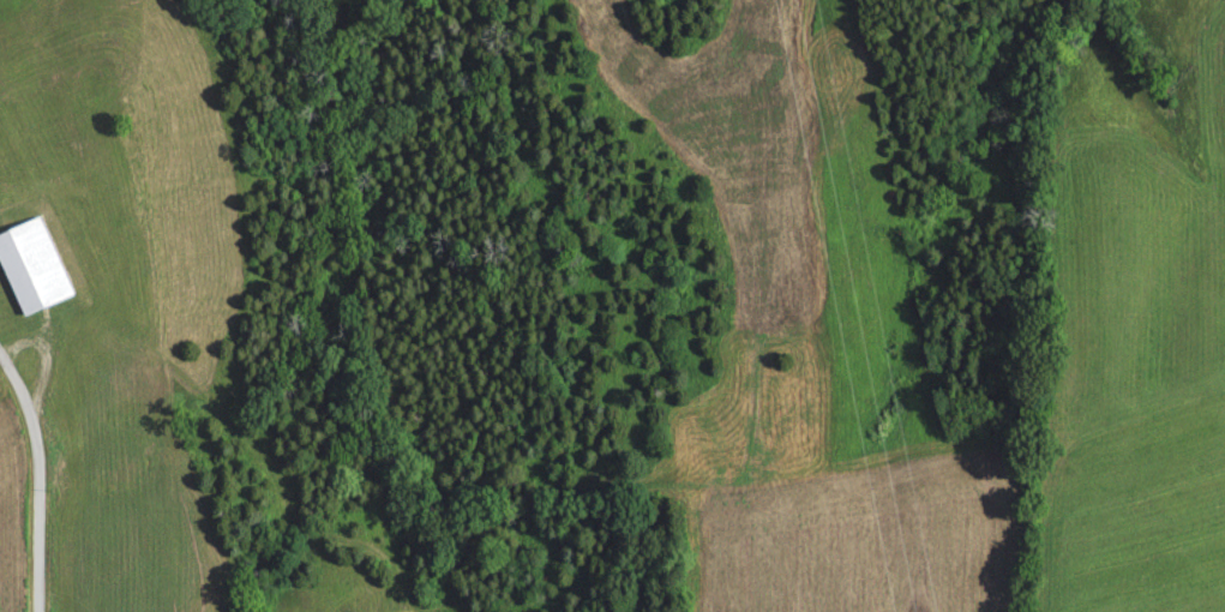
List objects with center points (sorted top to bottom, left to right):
building: (32, 274)
road: (37, 479)

